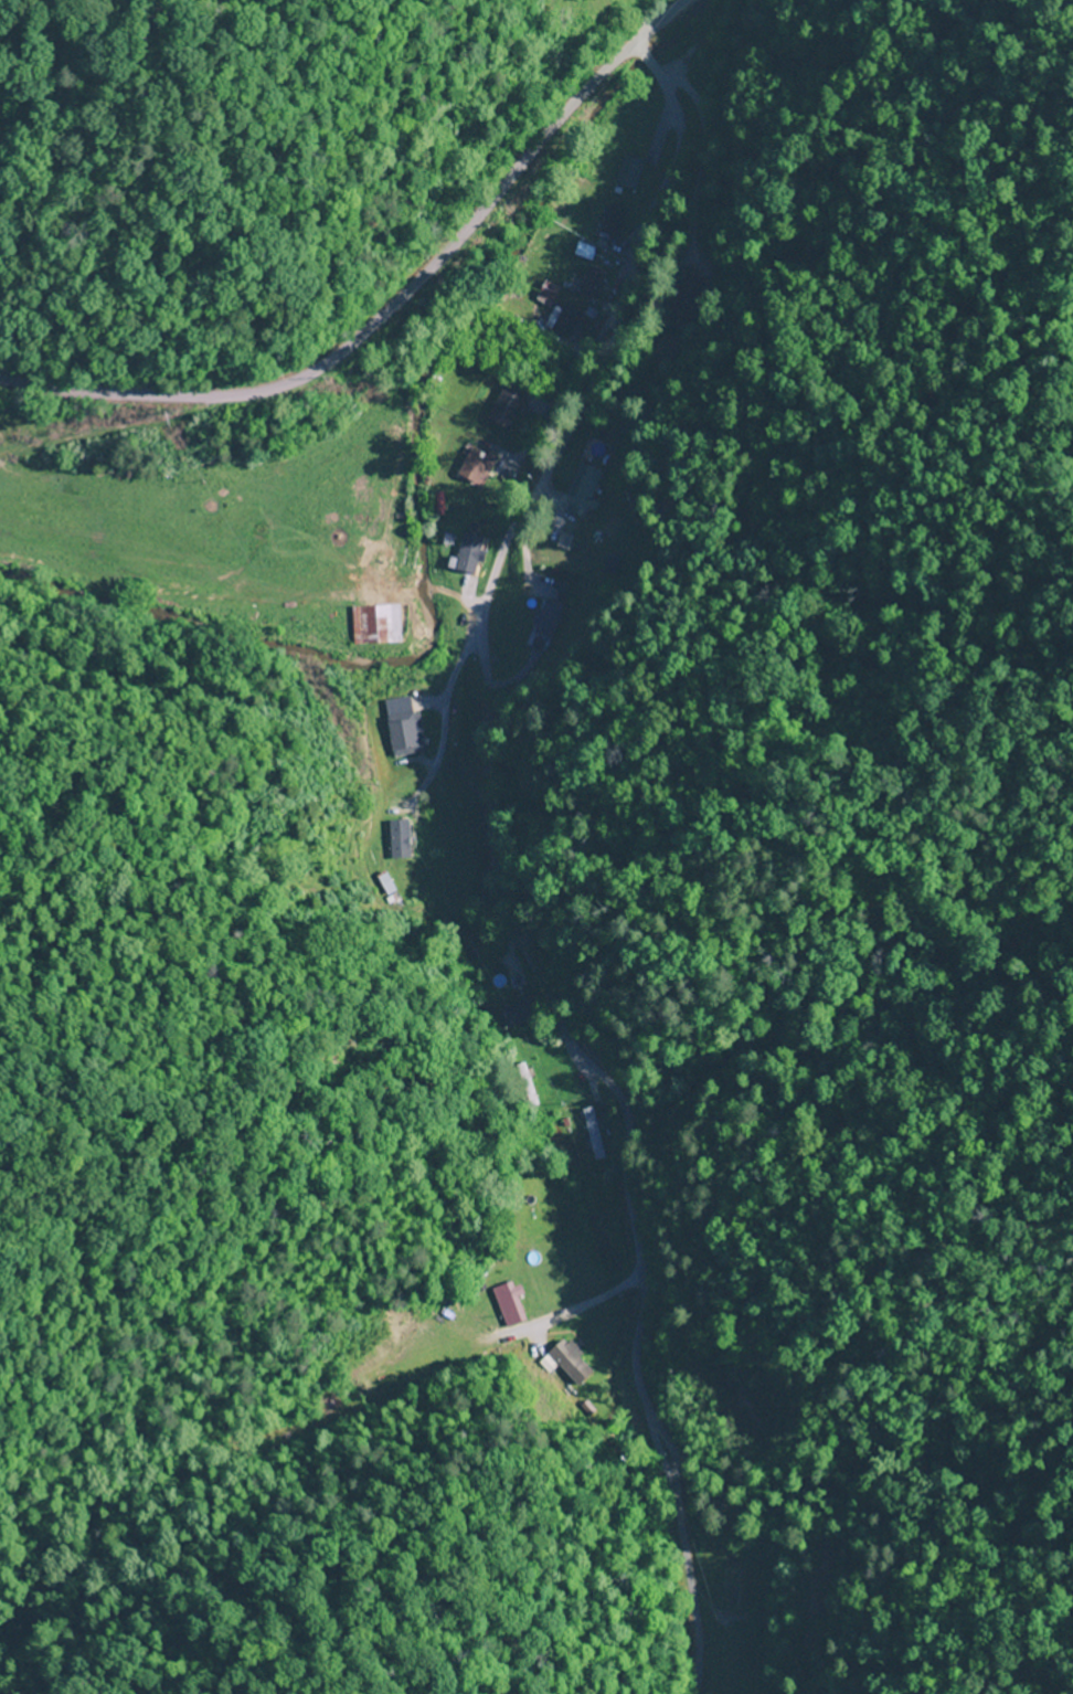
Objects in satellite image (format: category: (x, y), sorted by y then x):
building: (627, 173)
building: (612, 221)
building: (589, 285)
building: (544, 290)
road: (393, 305)
building: (565, 324)
building: (503, 410)
building: (474, 467)
building: (583, 493)
building: (466, 554)
building: (544, 620)
building: (373, 625)
building: (402, 728)
road: (486, 868)
building: (592, 1134)
building: (510, 1304)
building: (567, 1364)

